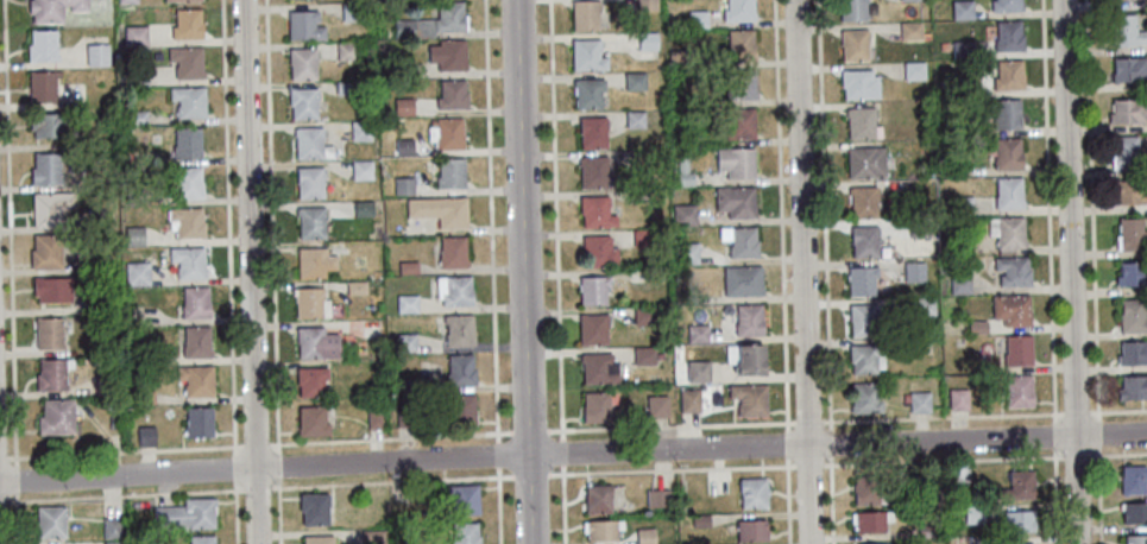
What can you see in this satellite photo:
building: (178, 0)
building: (910, 0)
building: (1128, 0)
building: (125, 1)
building: (645, 5)
building: (1004, 6)
building: (51, 8)
building: (960, 10)
building: (737, 11)
building: (851, 11)
building: (349, 12)
building: (582, 17)
building: (695, 19)
building: (431, 21)
building: (185, 25)
building: (302, 26)
building: (908, 31)
building: (1127, 31)
building: (134, 36)
building: (1007, 37)
building: (645, 40)
building: (738, 45)
building: (40, 46)
building: (852, 46)
building: (960, 49)
building: (345, 51)
building: (95, 55)
building: (446, 55)
building: (585, 56)
building: (678, 58)
building: (185, 62)
building: (301, 64)
building: (1129, 68)
building: (913, 70)
building: (403, 71)
building: (1008, 76)
building: (137, 77)
building: (632, 81)
building: (858, 84)
building: (40, 86)
building: (739, 86)
building: (963, 86)
building: (342, 88)
building: (586, 91)
building: (449, 95)
building: (187, 101)
building: (301, 103)
building: (401, 106)
building: (1128, 110)
building: (1007, 112)
building: (137, 116)
building: (634, 119)
building: (738, 124)
building: (861, 124)
building: (46, 125)
building: (958, 129)
building: (359, 131)
building: (445, 133)
building: (591, 133)
building: (682, 135)
building: (185, 143)
building: (309, 144)
building: (402, 147)
building: (1126, 151)
building: (1007, 153)
building: (639, 159)
building: (733, 162)
building: (865, 163)
building: (681, 165)
building: (43, 169)
building: (954, 169)
building: (360, 170)
building: (591, 172)
building: (929, 173)
building: (448, 175)
building: (682, 179)
building: (308, 183)
building: (185, 184)
building: (401, 185)
building: (1007, 192)
building: (1130, 192)
building: (136, 194)
building: (637, 196)
building: (735, 201)
building: (863, 202)
building: (960, 204)
building: (49, 208)
building: (361, 209)
building: (436, 211)
building: (595, 211)
building: (683, 214)
building: (94, 219)
building: (184, 223)
building: (309, 224)
building: (918, 228)
building: (1007, 232)
building: (1130, 233)
building: (132, 235)
building: (642, 238)
building: (739, 241)
building: (864, 241)
building: (43, 252)
building: (450, 252)
building: (598, 252)
building: (686, 253)
building: (94, 261)
building: (185, 262)
building: (311, 264)
building: (408, 267)
building: (1011, 270)
road: (1051, 271)
road: (11, 272)
road: (229, 272)
road: (251, 272)
road: (273, 272)
road: (492, 272)
road: (524, 272)
road: (557, 272)
road: (782, 272)
road: (803, 272)
road: (826, 272)
building: (913, 272)
road: (1071, 272)
road: (1094, 272)
building: (1132, 273)
building: (134, 274)
building: (641, 276)
building: (743, 280)
building: (861, 280)
building: (959, 284)
building: (354, 287)
building: (593, 289)
building: (50, 290)
building: (122, 290)
building: (453, 290)
building: (194, 303)
building: (407, 303)
building: (308, 304)
building: (100, 306)
building: (925, 306)
building: (1010, 309)
building: (643, 316)
building: (1133, 316)
building: (748, 320)
building: (864, 321)
building: (976, 327)
building: (370, 328)
building: (592, 328)
building: (459, 329)
building: (697, 333)
building: (45, 334)
building: (405, 341)
building: (194, 342)
building: (109, 344)
building: (314, 344)
building: (909, 344)
building: (1016, 349)
building: (1132, 353)
building: (643, 355)
building: (658, 356)
building: (141, 358)
building: (865, 358)
building: (750, 359)
building: (378, 366)
building: (599, 367)
building: (460, 369)
building: (698, 371)
building: (50, 374)
building: (309, 380)
building: (194, 381)
building: (411, 384)
building: (102, 385)
building: (1133, 386)
building: (1017, 391)
building: (140, 397)
building: (749, 398)
building: (864, 398)
building: (689, 399)
building: (957, 399)
building: (919, 401)
building: (657, 405)
building: (598, 406)
building: (458, 409)
building: (53, 418)
building: (404, 418)
building: (374, 419)
building: (311, 420)
building: (196, 423)
road: (573, 431)
building: (145, 436)
road: (573, 454)
building: (958, 473)
road: (573, 475)
building: (925, 477)
building: (1133, 479)
building: (1015, 486)
building: (866, 489)
building: (755, 492)
building: (599, 498)
building: (658, 498)
building: (464, 499)
building: (316, 507)
building: (1134, 512)
building: (187, 513)
building: (972, 514)
building: (701, 520)
building: (50, 521)
building: (869, 521)
building: (1015, 521)
building: (112, 527)
building: (752, 529)
building: (603, 530)
building: (926, 531)
building: (466, 533)
building: (645, 536)
building: (373, 537)
building: (320, 538)
building: (201, 539)
building: (1135, 539)
building: (982, 540)
building: (113, 543)
building: (874, 543)
building: (1019, 543)

